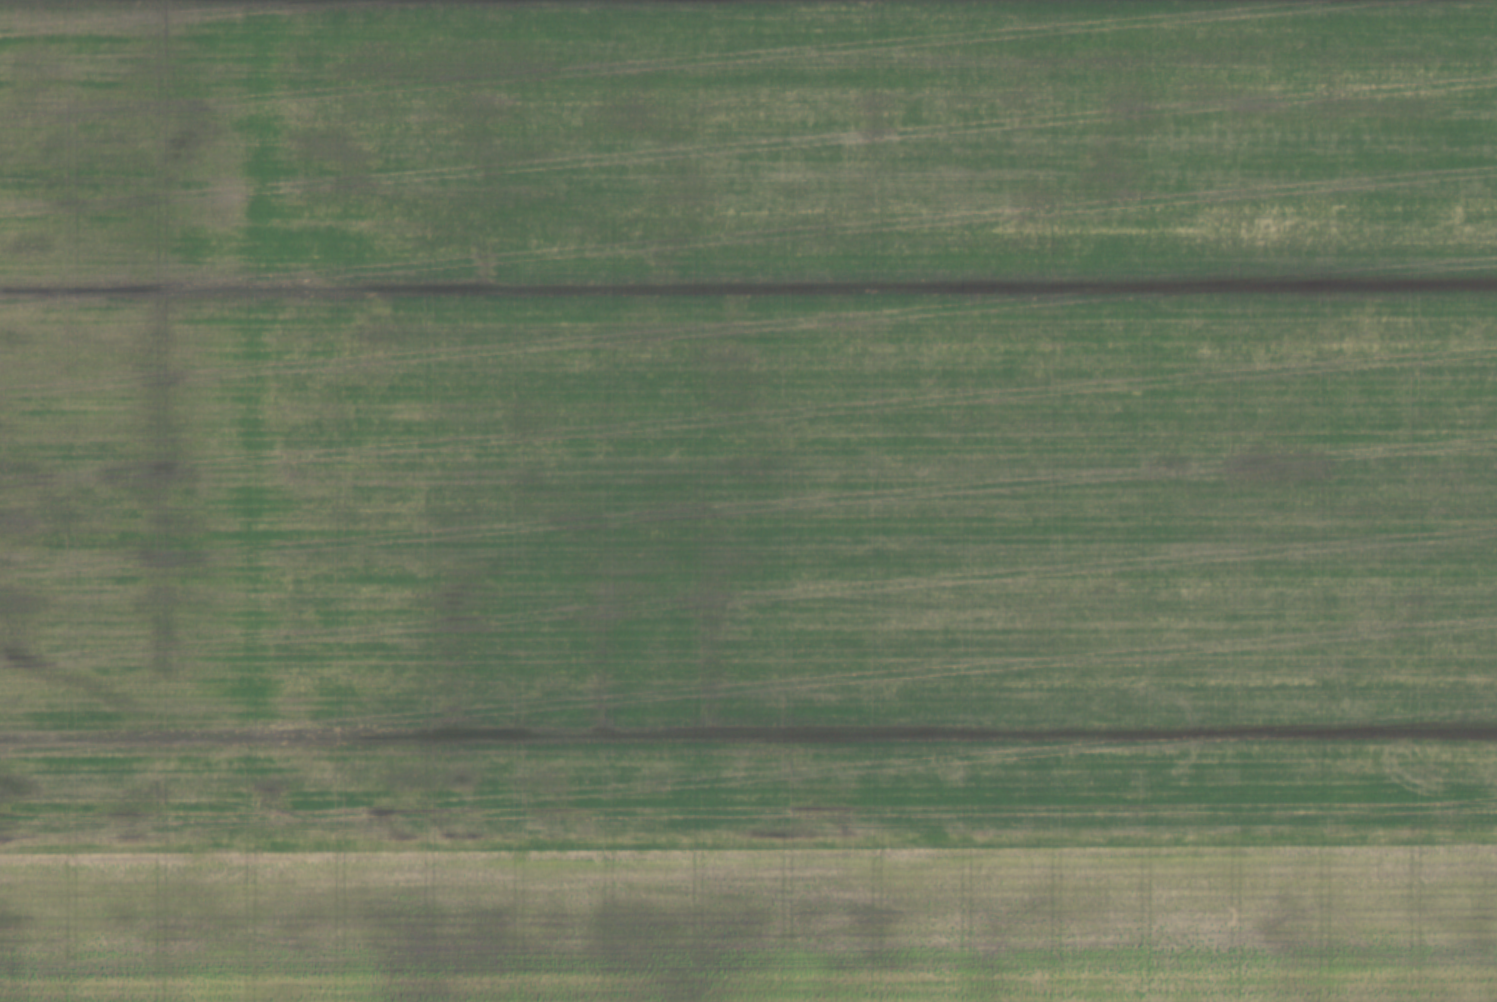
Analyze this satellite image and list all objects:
crop: (748, 501)

